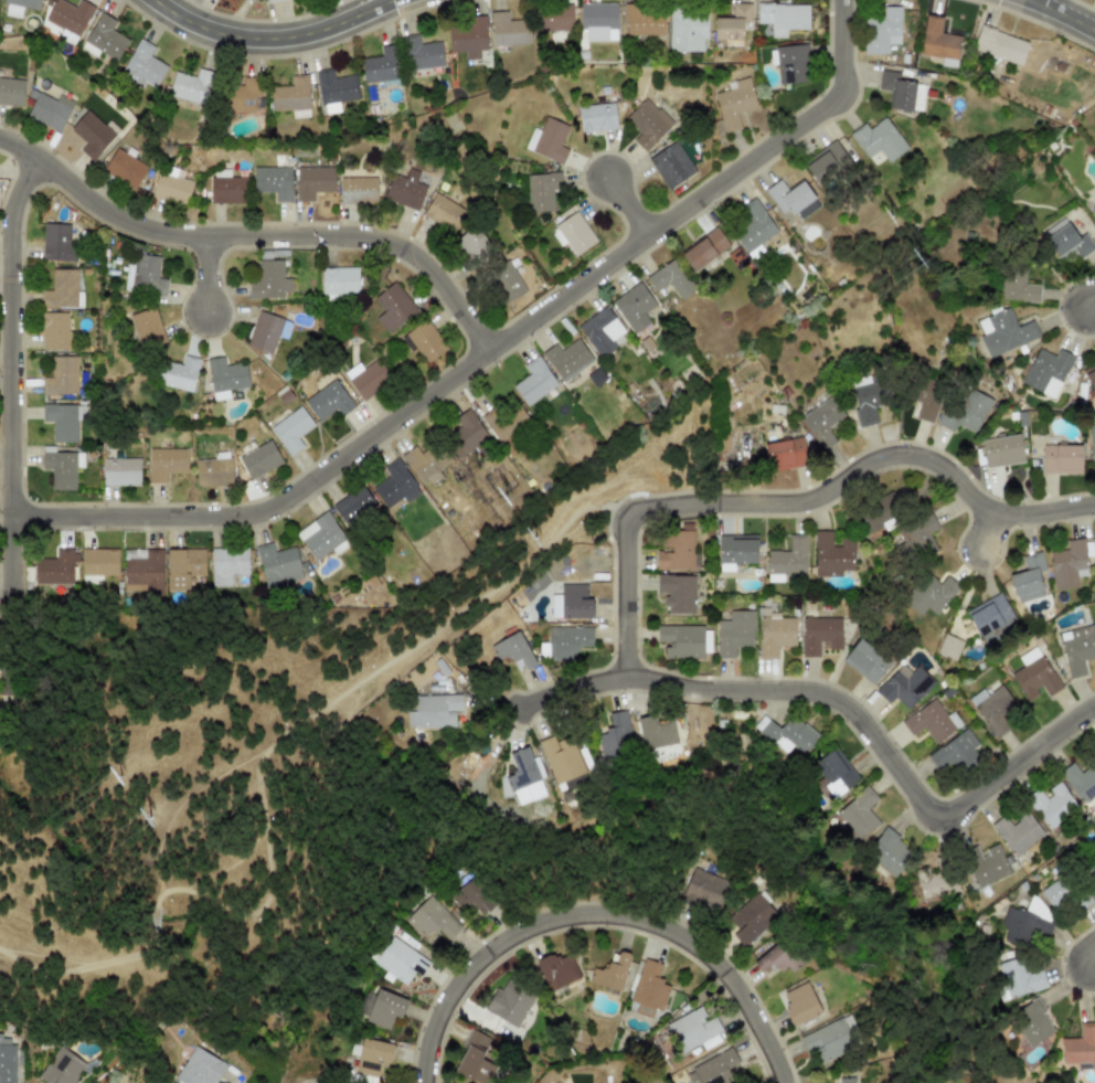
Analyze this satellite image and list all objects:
building: (267, 0)
building: (19, 7)
road: (1064, 14)
building: (70, 15)
building: (783, 17)
building: (554, 18)
building: (642, 20)
building: (598, 21)
building: (733, 25)
building: (509, 30)
building: (687, 30)
building: (882, 30)
road: (270, 36)
building: (469, 38)
building: (104, 39)
building: (938, 42)
building: (1000, 45)
building: (421, 53)
building: (789, 63)
building: (142, 65)
building: (382, 65)
building: (191, 85)
building: (333, 89)
building: (896, 89)
building: (11, 92)
building: (242, 95)
building: (291, 97)
building: (733, 104)
building: (49, 109)
building: (597, 117)
building: (647, 124)
building: (92, 135)
building: (878, 139)
building: (547, 140)
building: (827, 162)
building: (671, 164)
building: (125, 168)
building: (273, 181)
building: (312, 181)
building: (171, 188)
building: (404, 188)
building: (358, 190)
building: (542, 190)
building: (791, 198)
road: (627, 204)
building: (444, 212)
building: (1094, 212)
building: (753, 226)
building: (573, 233)
road: (258, 234)
building: (1066, 240)
building: (57, 243)
building: (472, 245)
building: (704, 248)
road: (213, 273)
building: (145, 275)
building: (670, 278)
building: (269, 280)
building: (339, 280)
building: (507, 282)
building: (1019, 285)
building: (63, 290)
road: (1091, 302)
building: (634, 306)
building: (392, 307)
building: (147, 328)
building: (56, 331)
building: (266, 331)
building: (602, 331)
building: (1003, 331)
building: (425, 341)
road: (489, 351)
building: (567, 359)
building: (1046, 371)
building: (179, 374)
building: (62, 376)
building: (225, 376)
building: (1089, 376)
building: (366, 378)
road: (15, 379)
building: (534, 381)
building: (328, 400)
building: (926, 400)
building: (868, 401)
building: (964, 411)
building: (63, 421)
building: (492, 421)
building: (822, 422)
building: (291, 429)
building: (468, 434)
building: (1092, 442)
building: (1002, 450)
building: (785, 453)
building: (1061, 458)
building: (258, 459)
building: (167, 464)
building: (423, 466)
building: (62, 468)
building: (213, 470)
building: (121, 471)
building: (395, 485)
road: (791, 499)
building: (353, 505)
building: (885, 508)
road: (981, 525)
building: (321, 537)
building: (916, 538)
building: (737, 549)
building: (676, 550)
building: (831, 554)
building: (787, 560)
building: (227, 563)
building: (98, 564)
building: (1067, 564)
building: (277, 565)
building: (183, 566)
building: (55, 569)
building: (143, 573)
building: (1028, 577)
building: (677, 593)
building: (932, 595)
building: (571, 602)
building: (991, 618)
building: (734, 633)
building: (775, 634)
building: (820, 634)
building: (681, 640)
building: (567, 641)
building: (948, 646)
road: (7, 647)
building: (1077, 648)
building: (513, 651)
building: (865, 660)
building: (1034, 675)
building: (904, 686)
road: (553, 688)
road: (733, 689)
building: (992, 709)
building: (433, 711)
building: (931, 721)
building: (657, 731)
building: (786, 733)
building: (615, 737)
building: (955, 752)
building: (561, 758)
building: (834, 772)
building: (523, 777)
building: (1080, 781)
road: (261, 783)
park: (236, 794)
road: (955, 801)
building: (1051, 805)
building: (859, 814)
road: (202, 822)
building: (1017, 832)
building: (889, 853)
building: (1089, 859)
building: (985, 863)
building: (937, 883)
building: (703, 889)
building: (1056, 893)
building: (471, 894)
road: (602, 914)
building: (432, 919)
building: (751, 919)
building: (1027, 923)
road: (1089, 947)
building: (398, 960)
building: (556, 970)
building: (610, 973)
building: (1017, 978)
building: (648, 989)
building: (510, 1000)
building: (799, 1004)
building: (384, 1008)
building: (1031, 1022)
building: (692, 1029)
building: (1080, 1044)
building: (373, 1057)
building: (7, 1060)
building: (474, 1060)
building: (711, 1066)
building: (62, 1068)
building: (200, 1068)
building: (847, 1080)

